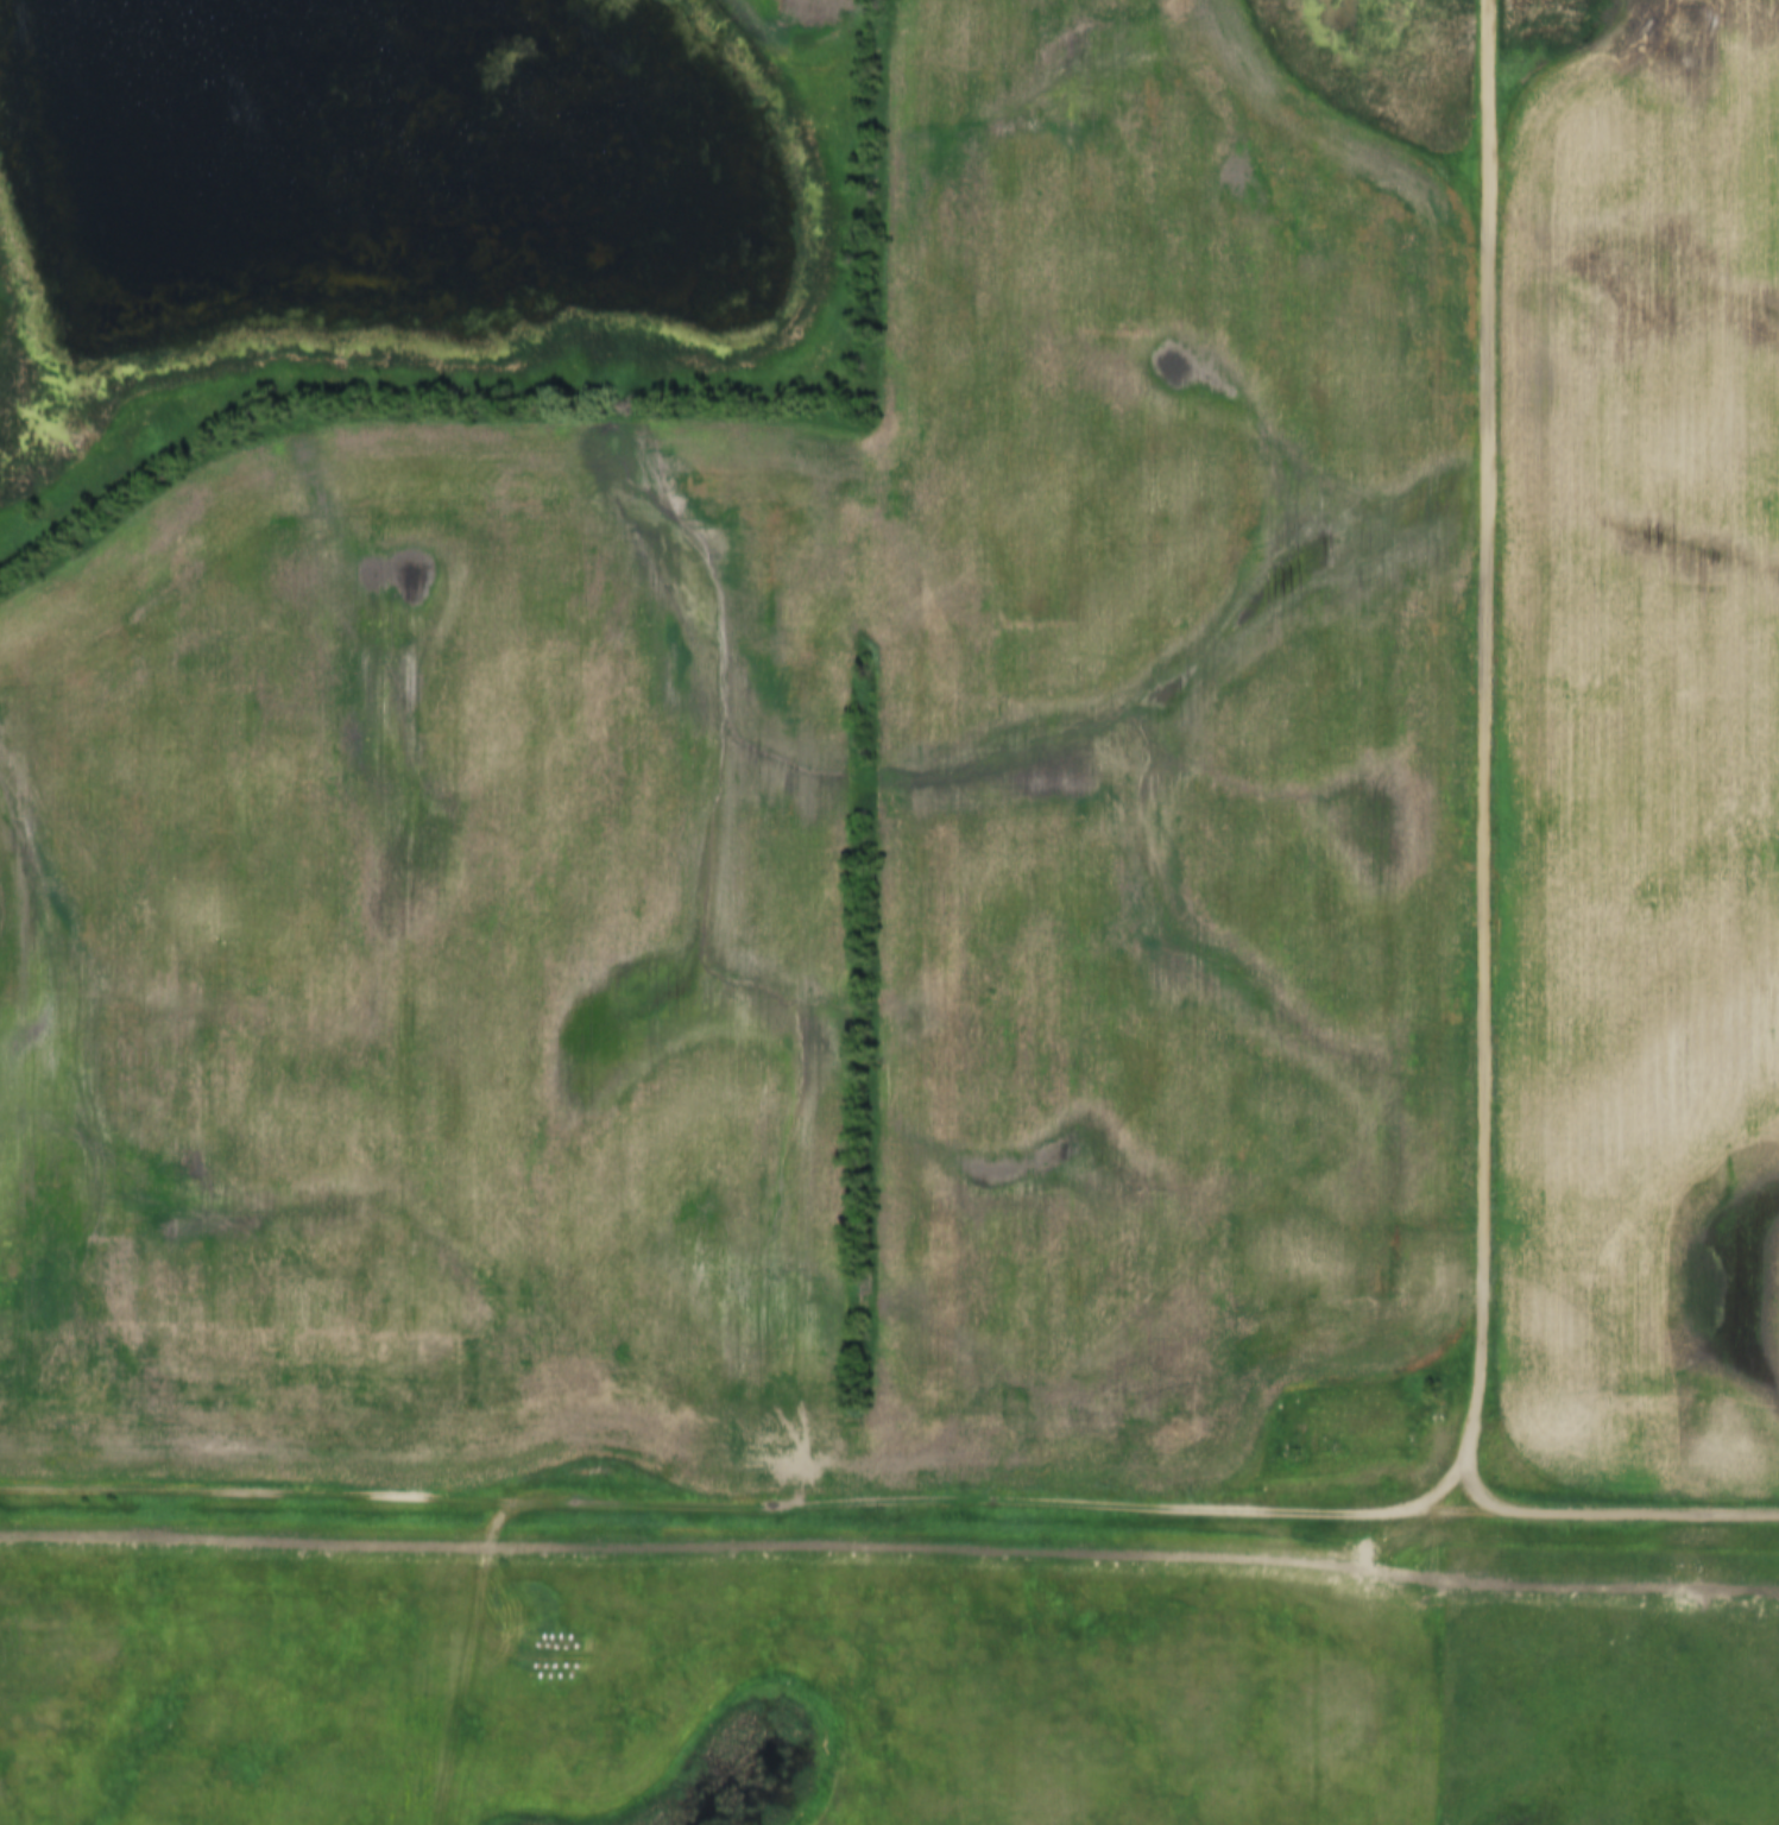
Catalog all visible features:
road: (1491, 735)
road: (1480, 1496)
road: (738, 1508)
road: (1588, 1516)

